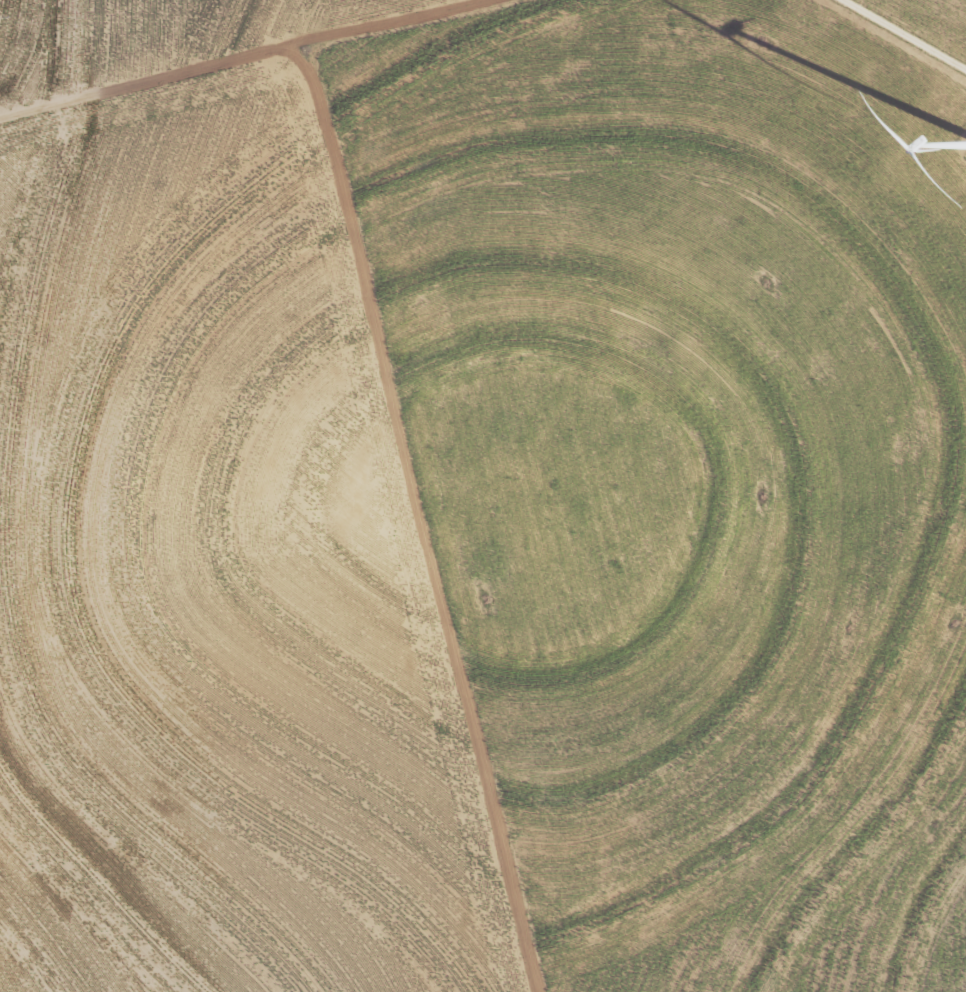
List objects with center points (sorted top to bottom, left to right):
road: (904, 35)

